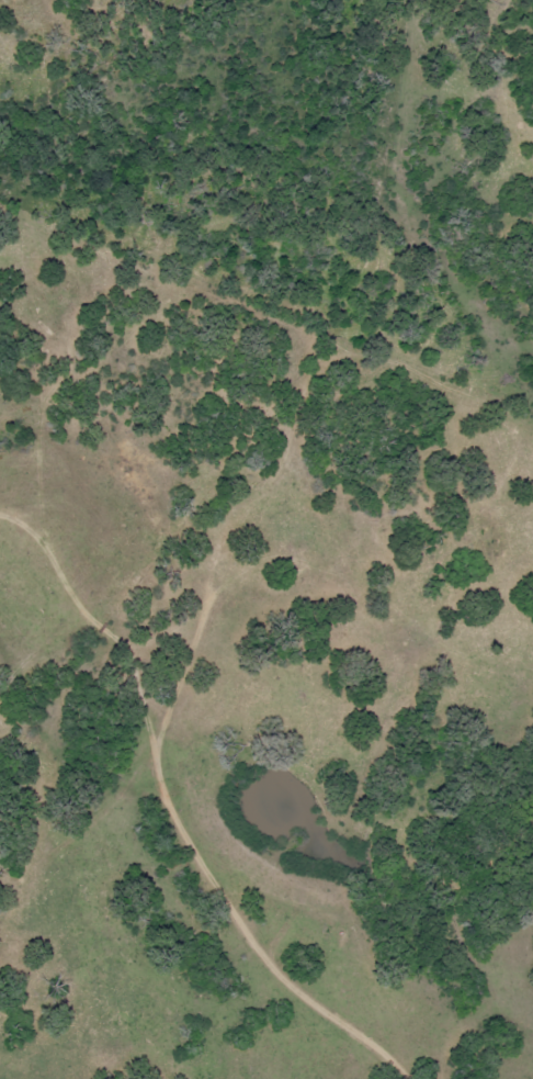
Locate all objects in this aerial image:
road: (234, 647)
road: (46, 831)

